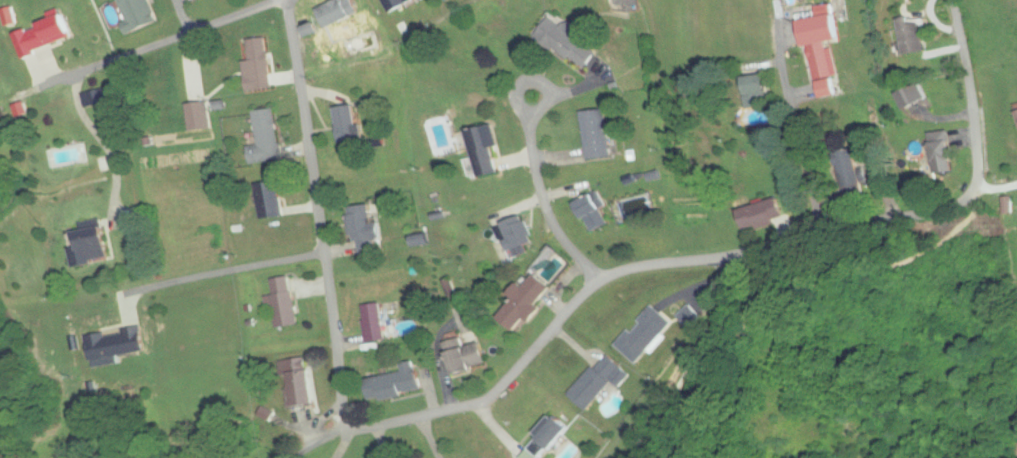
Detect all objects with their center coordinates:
building: (395, 6)
building: (137, 14)
road: (182, 18)
building: (337, 24)
building: (823, 31)
building: (43, 36)
building: (569, 43)
road: (166, 45)
building: (259, 65)
building: (826, 71)
building: (755, 92)
building: (912, 95)
building: (96, 98)
building: (199, 117)
road: (539, 118)
building: (347, 124)
road: (795, 124)
building: (596, 135)
building: (267, 139)
building: (483, 152)
building: (941, 153)
building: (851, 176)
road: (990, 193)
building: (271, 199)
building: (591, 214)
building: (762, 215)
road: (551, 218)
building: (364, 229)
building: (89, 245)
road: (243, 271)
building: (525, 301)
building: (283, 302)
building: (691, 316)
building: (374, 322)
building: (644, 334)
road: (545, 337)
building: (117, 344)
building: (464, 355)
building: (599, 382)
building: (299, 383)
building: (395, 383)
building: (546, 438)

